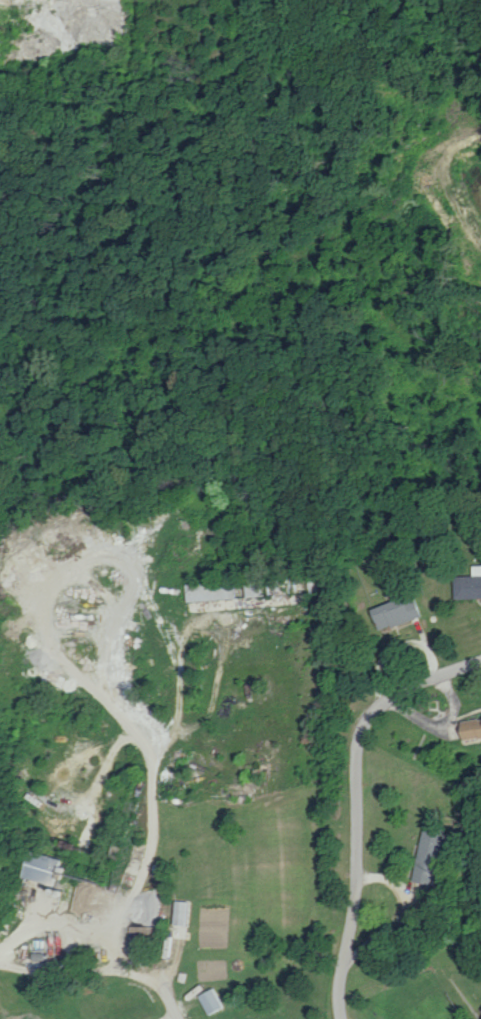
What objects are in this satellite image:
building: (467, 584)
building: (208, 590)
building: (392, 612)
building: (468, 726)
road: (359, 804)
building: (426, 855)
building: (39, 868)
road: (133, 898)
building: (179, 912)
road: (169, 993)
building: (207, 1000)
building: (480, 1009)
building: (480, 1018)

